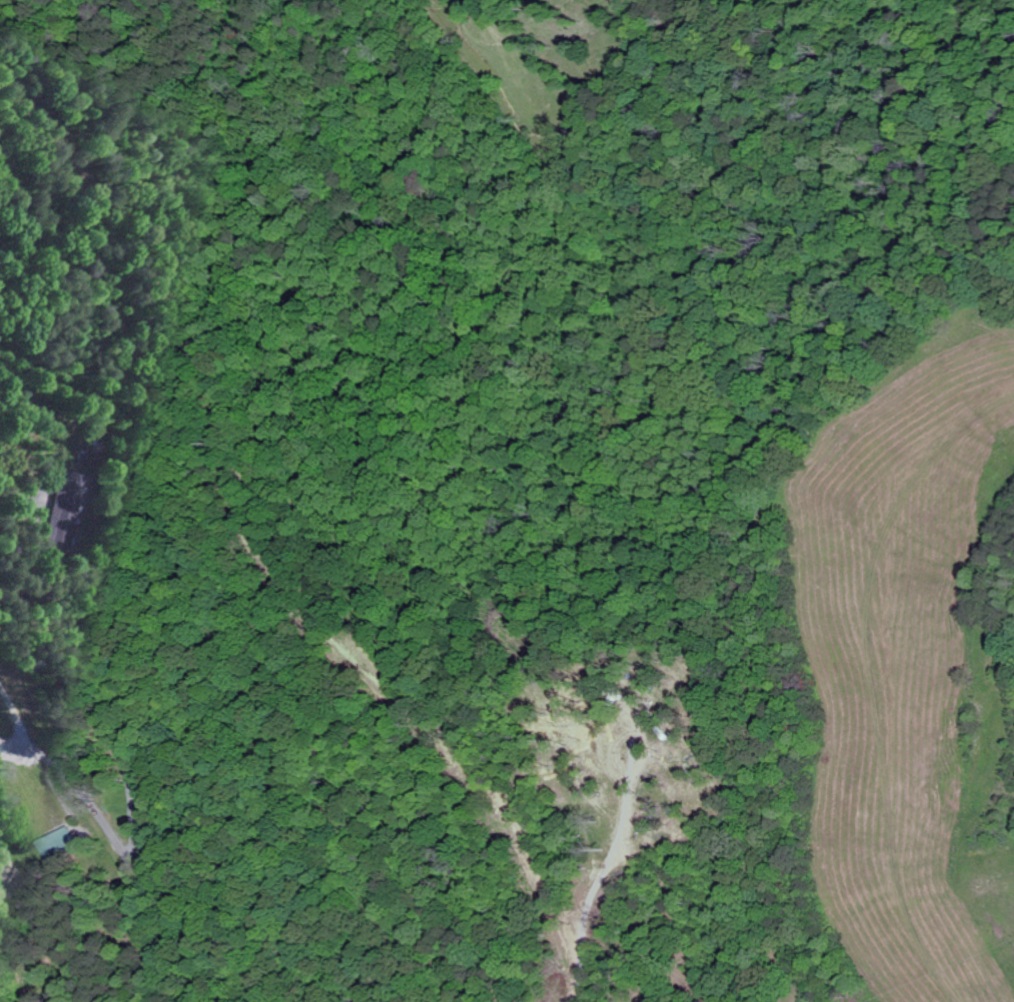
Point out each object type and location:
building: (66, 506)
building: (60, 842)
road: (122, 848)

